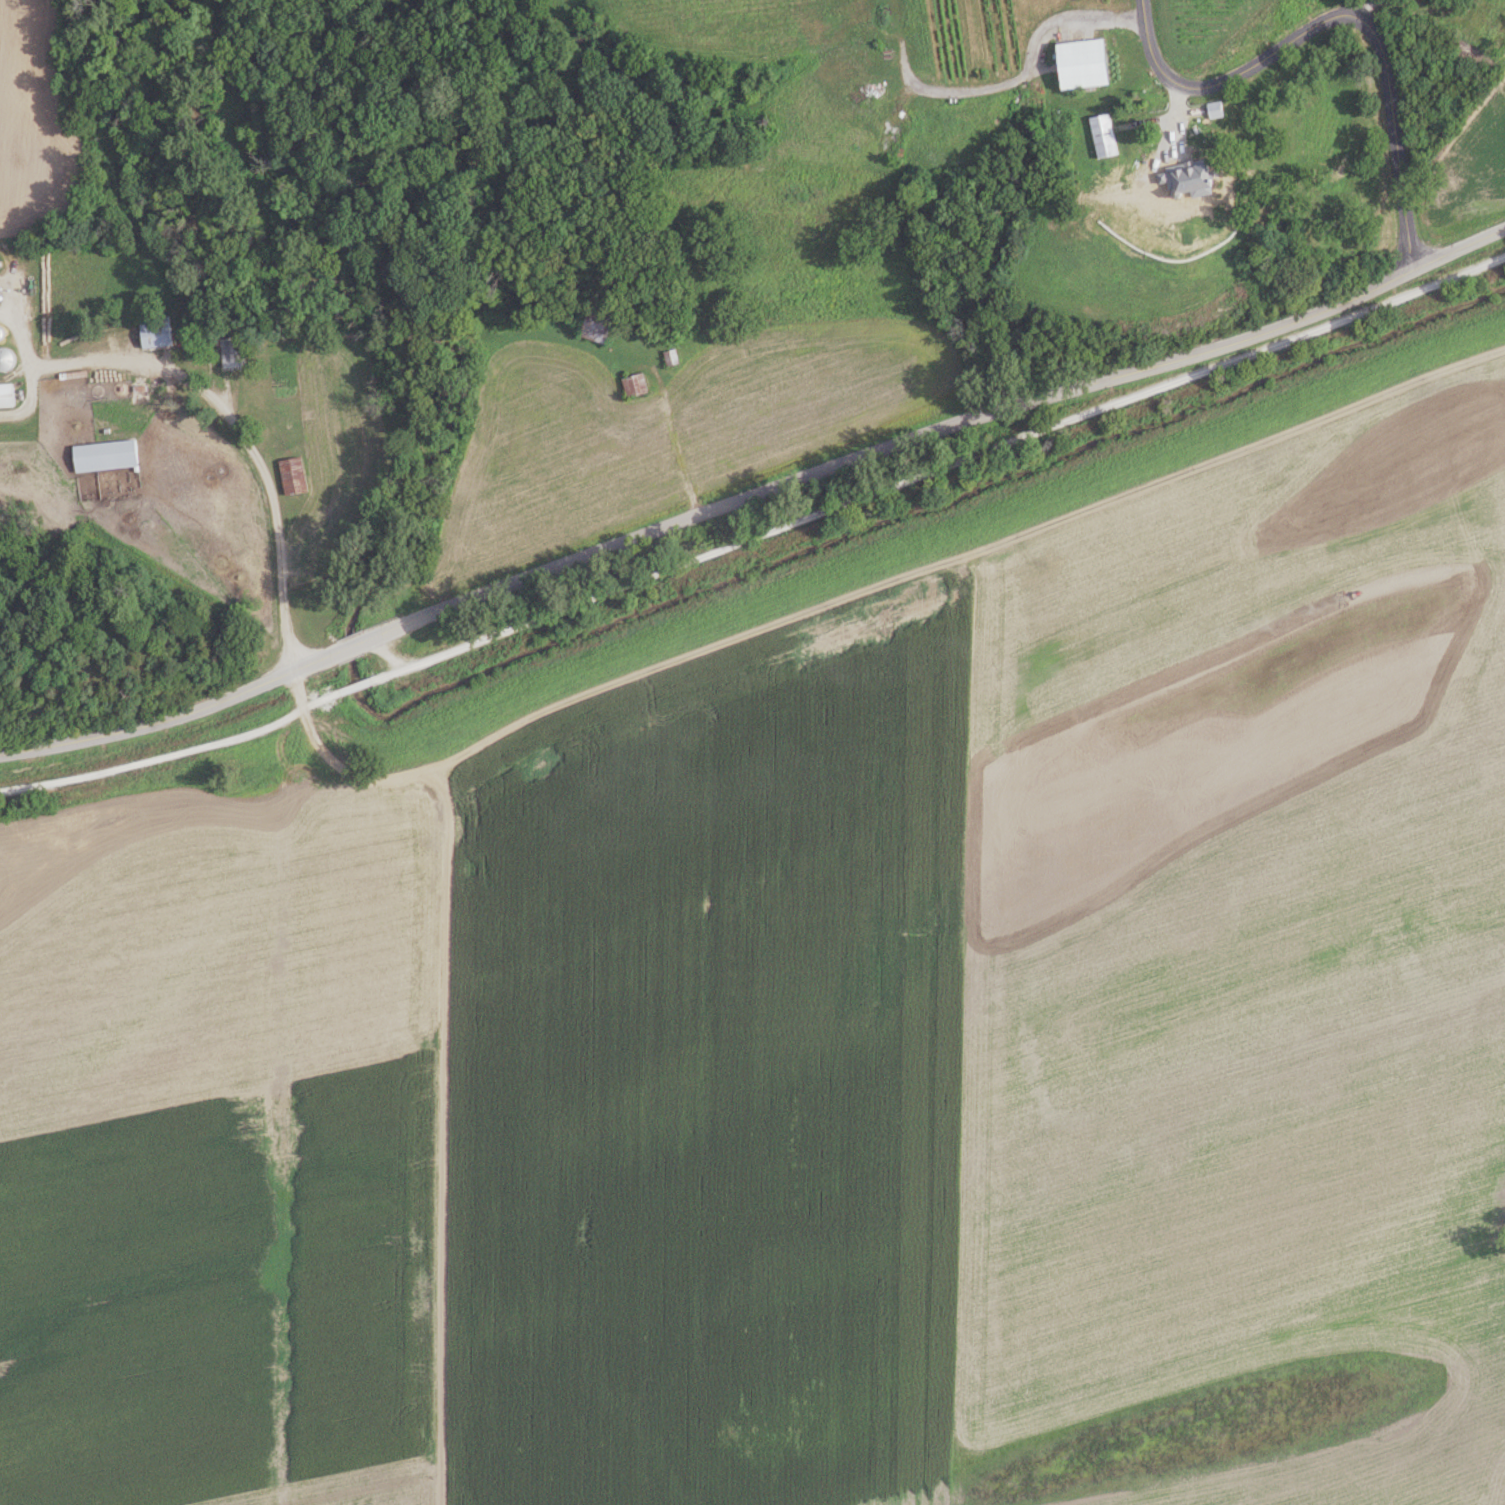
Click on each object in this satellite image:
road: (1337, 15)
road: (1029, 62)
building: (1085, 63)
building: (1217, 109)
building: (1106, 137)
building: (1196, 179)
building: (1196, 238)
building: (597, 331)
road: (19, 332)
building: (1, 333)
building: (157, 335)
building: (234, 352)
building: (672, 357)
building: (6, 359)
building: (635, 385)
building: (6, 396)
road: (25, 398)
road: (242, 436)
road: (896, 443)
road: (676, 446)
building: (106, 456)
building: (293, 476)
road: (756, 538)
road: (148, 724)
road: (447, 1032)

